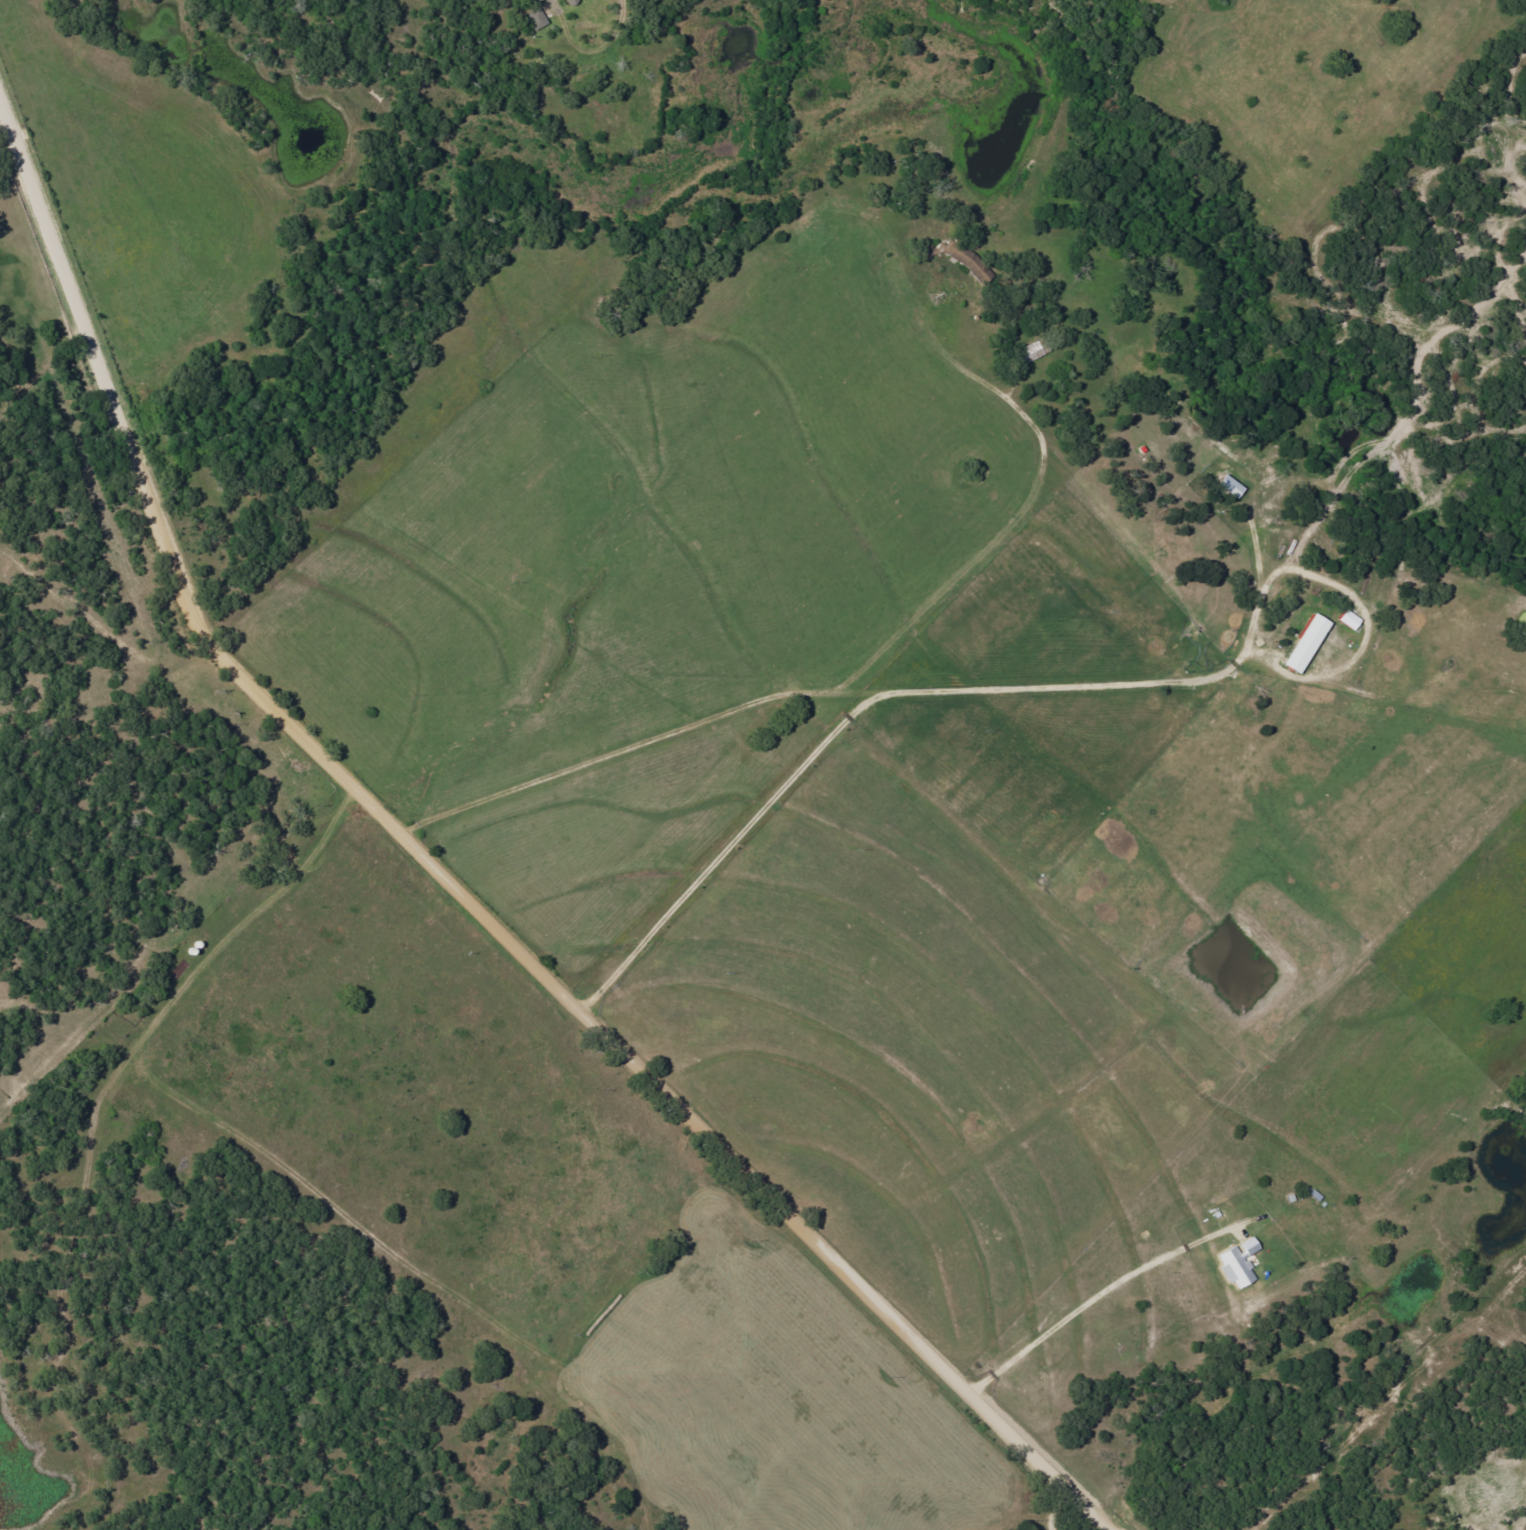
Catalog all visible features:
building: (567, 0)
road: (312, 111)
building: (1350, 620)
building: (1308, 643)
road: (822, 697)
road: (172, 863)
road: (469, 867)
building: (1241, 1262)

